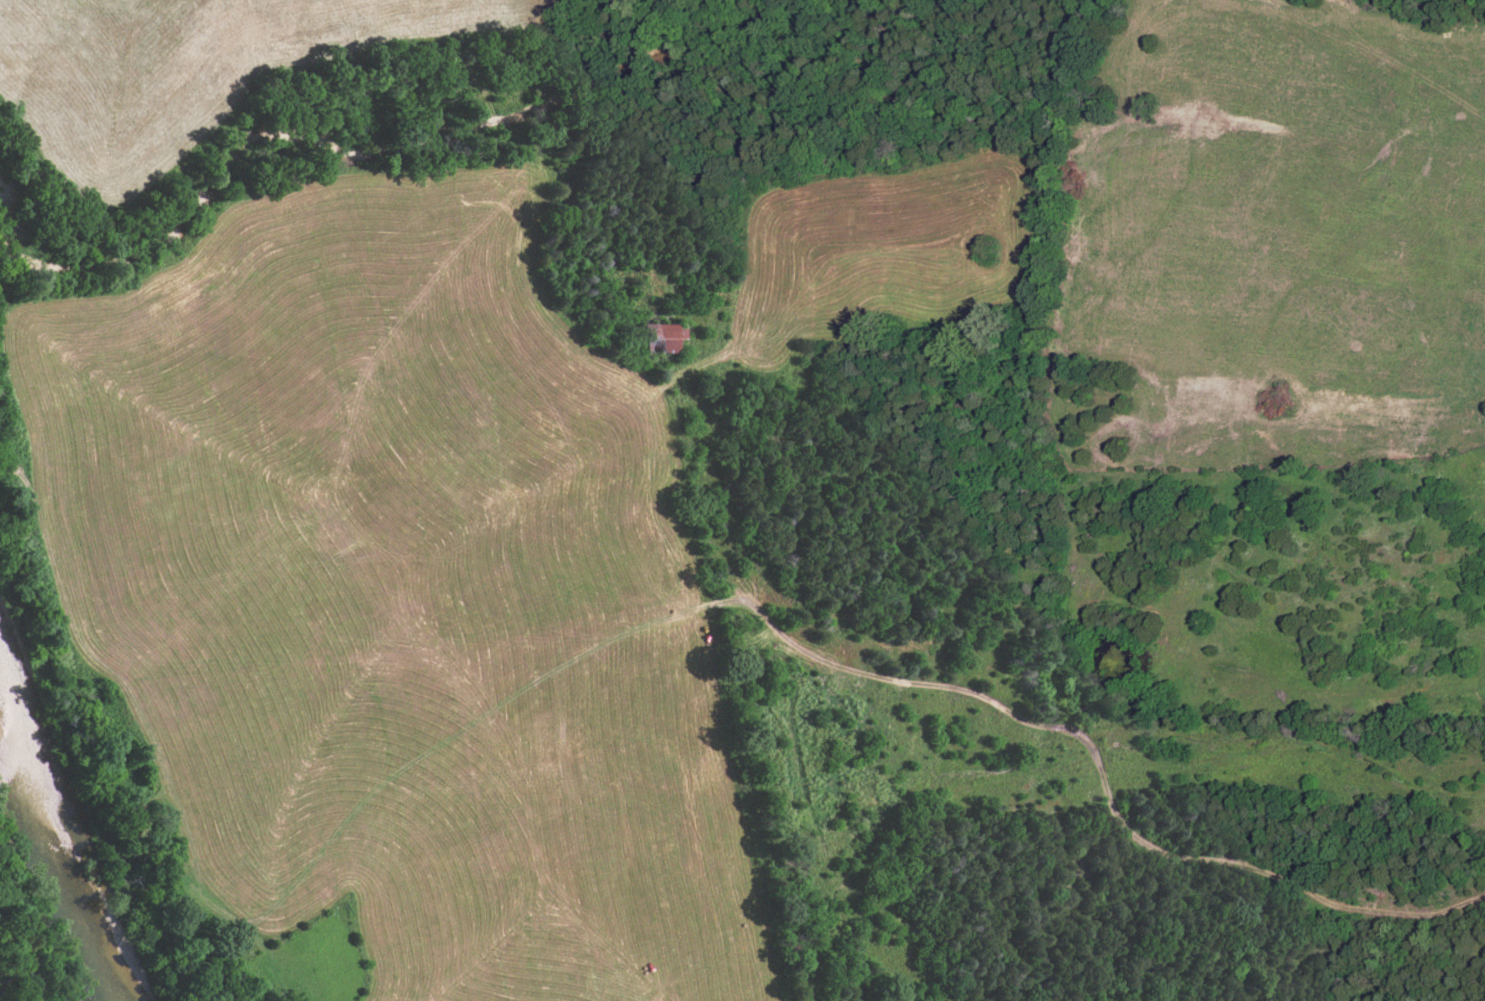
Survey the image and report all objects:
road: (1018, 693)
river: (68, 852)

